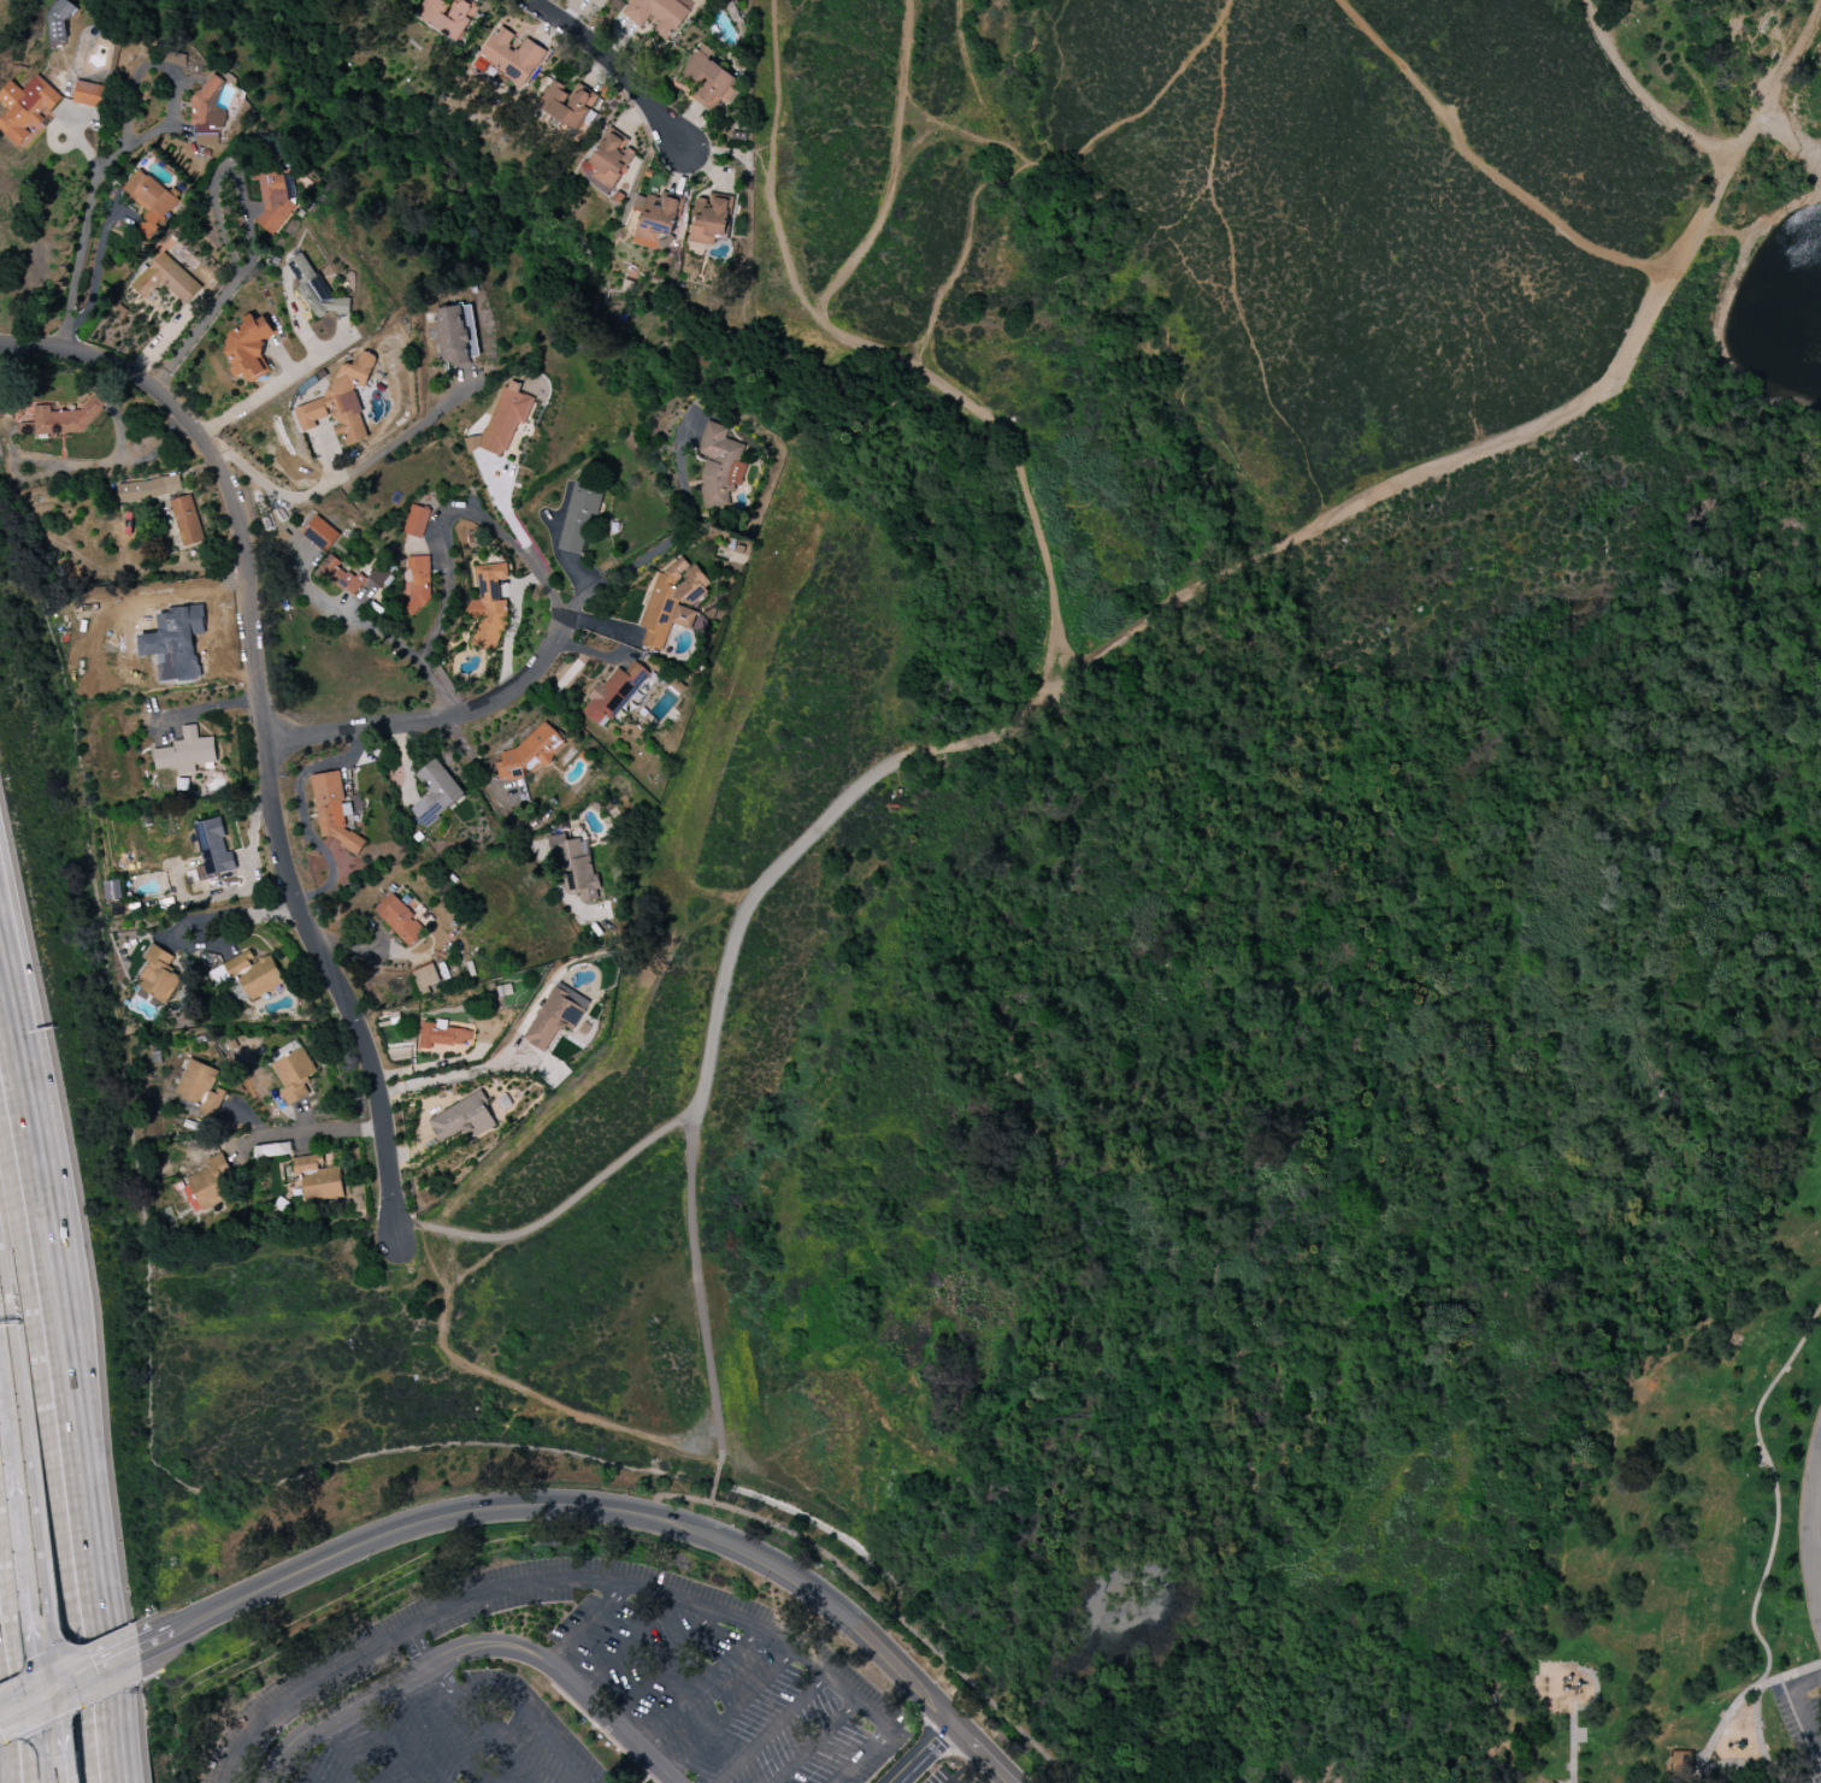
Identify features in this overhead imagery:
building: (596, 0)
building: (656, 14)
building: (448, 16)
building: (511, 55)
road: (1682, 57)
building: (176, 58)
road: (613, 67)
building: (708, 78)
road: (1059, 82)
road: (1739, 85)
building: (89, 95)
road: (1645, 96)
road: (968, 101)
building: (566, 104)
building: (26, 110)
building: (207, 113)
road: (962, 135)
road: (1791, 135)
road: (119, 147)
building: (609, 160)
road: (1041, 161)
road: (892, 166)
road: (1484, 166)
building: (273, 197)
building: (149, 200)
building: (711, 218)
building: (659, 219)
road: (1767, 231)
road: (222, 234)
building: (166, 279)
road: (1232, 284)
building: (316, 289)
building: (455, 333)
building: (248, 346)
road: (885, 353)
road: (287, 376)
building: (313, 388)
building: (341, 401)
building: (63, 420)
building: (503, 420)
road: (411, 431)
building: (719, 465)
road: (271, 486)
building: (148, 489)
building: (578, 519)
building: (187, 520)
building: (416, 521)
building: (320, 533)
road: (443, 539)
road: (650, 553)
road: (1247, 568)
building: (340, 575)
building: (379, 578)
building: (419, 583)
road: (191, 590)
building: (671, 602)
building: (488, 607)
road: (365, 625)
building: (176, 642)
road: (218, 645)
building: (613, 693)
road: (440, 721)
road: (265, 728)
building: (185, 754)
building: (530, 754)
building: (435, 792)
road: (506, 808)
building: (332, 810)
building: (213, 849)
building: (574, 867)
road: (246, 916)
building: (399, 919)
park: (1198, 923)
building: (157, 976)
building: (247, 976)
building: (426, 978)
building: (555, 1016)
building: (443, 1038)
building: (284, 1051)
building: (294, 1075)
road: (455, 1078)
building: (199, 1087)
building: (462, 1118)
road: (322, 1133)
road: (690, 1140)
building: (318, 1179)
building: (211, 1182)
building: (358, 1198)
road: (67, 1208)
road: (481, 1262)
road: (53, 1273)
road: (529, 1393)
road: (7, 1419)
road: (28, 1435)
road: (702, 1452)
road: (53, 1458)
road: (715, 1486)
road: (1776, 1489)
road: (678, 1498)
road: (626, 1515)
road: (1809, 1531)
road: (23, 1558)
road: (1815, 1559)
road: (577, 1580)
road: (904, 1623)
road: (587, 1624)
road: (627, 1645)
road: (473, 1646)
road: (417, 1648)
road: (57, 1663)
road: (119, 1665)
road: (662, 1666)
road: (35, 1667)
parking lot: (330, 1672)
road: (12, 1681)
road: (113, 1681)
road: (699, 1688)
traffic signals: (60, 1693)
road: (111, 1695)
parking lot: (715, 1695)
road: (49, 1696)
traffic signals: (40, 1701)
road: (517, 1704)
road: (1802, 1706)
road: (19, 1708)
road: (731, 1712)
road: (47, 1724)
road: (65, 1725)
parking lot: (1804, 1728)
road: (771, 1729)
road: (1717, 1729)
road: (1760, 1729)
road: (43, 1731)
road: (435, 1735)
parking lot: (455, 1738)
road: (11, 1741)
road: (497, 1741)
road: (815, 1741)
road: (389, 1744)
road: (1575, 1750)
road: (344, 1754)
road: (923, 1754)
building: (1682, 1763)
road: (301, 1767)
road: (1754, 1767)
road: (71, 1771)
road: (48, 1773)
parking lot: (950, 1777)
building: (1546, 1782)
building: (1550, 1782)

